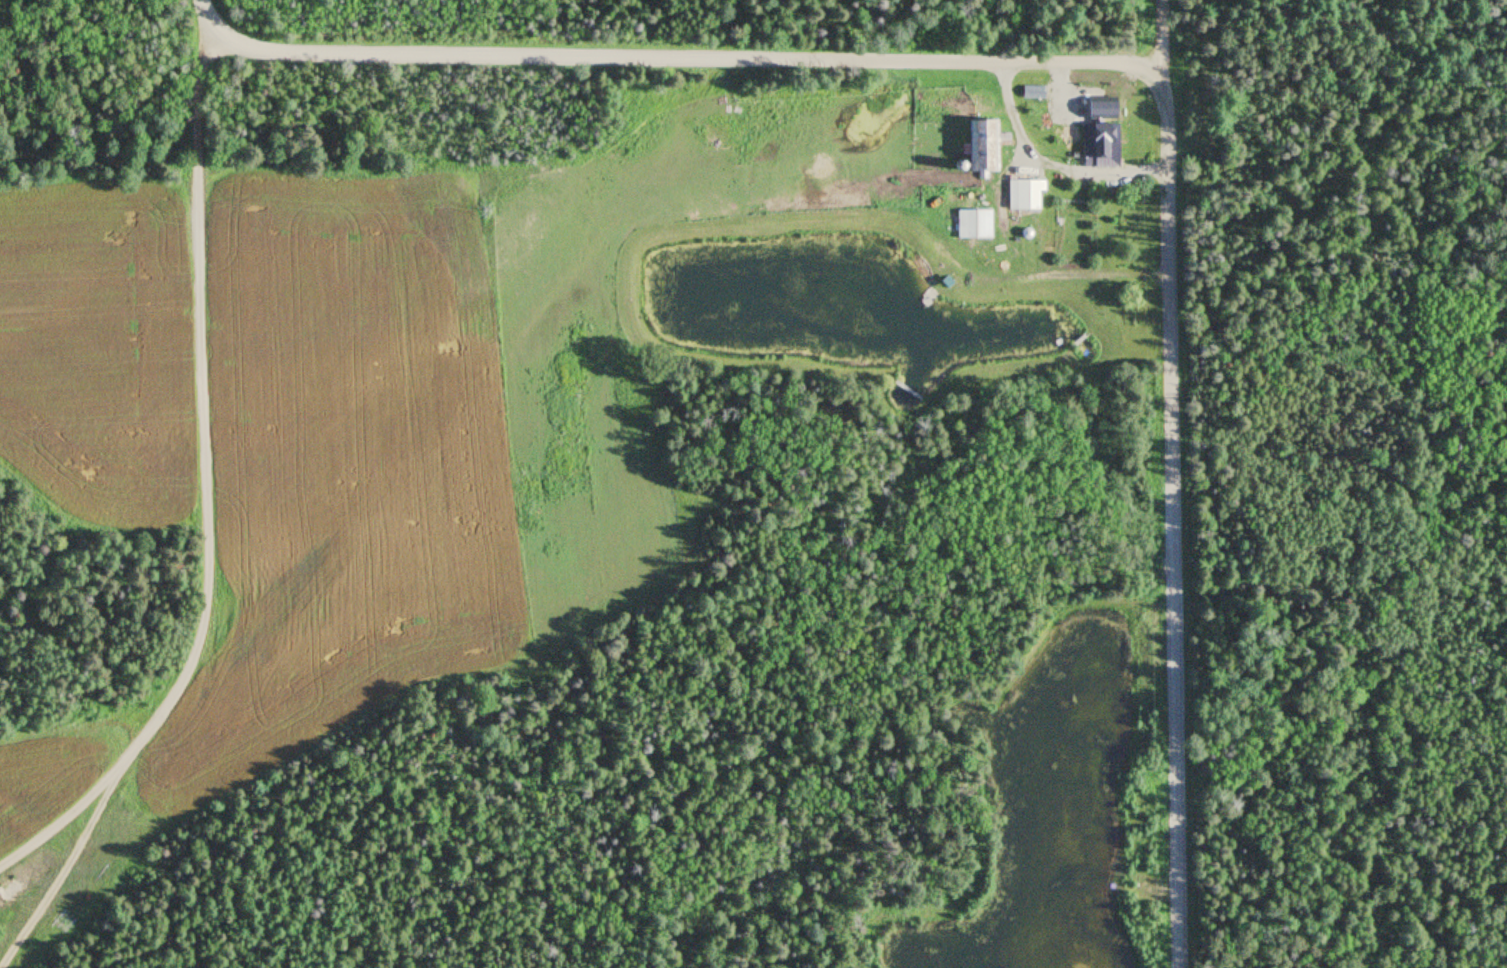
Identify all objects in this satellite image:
road: (1164, 32)
road: (1123, 63)
building: (1031, 91)
building: (1097, 141)
building: (980, 145)
road: (1048, 163)
building: (1022, 195)
building: (972, 225)
road: (208, 528)

